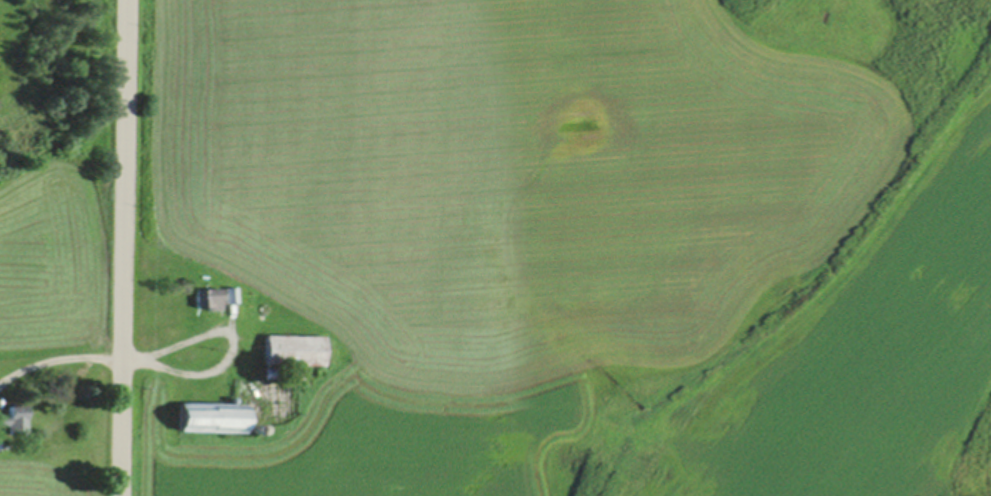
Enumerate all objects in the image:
road: (123, 248)
building: (229, 292)
building: (206, 296)
building: (292, 347)
building: (270, 371)
building: (210, 414)
building: (14, 417)
building: (251, 426)

